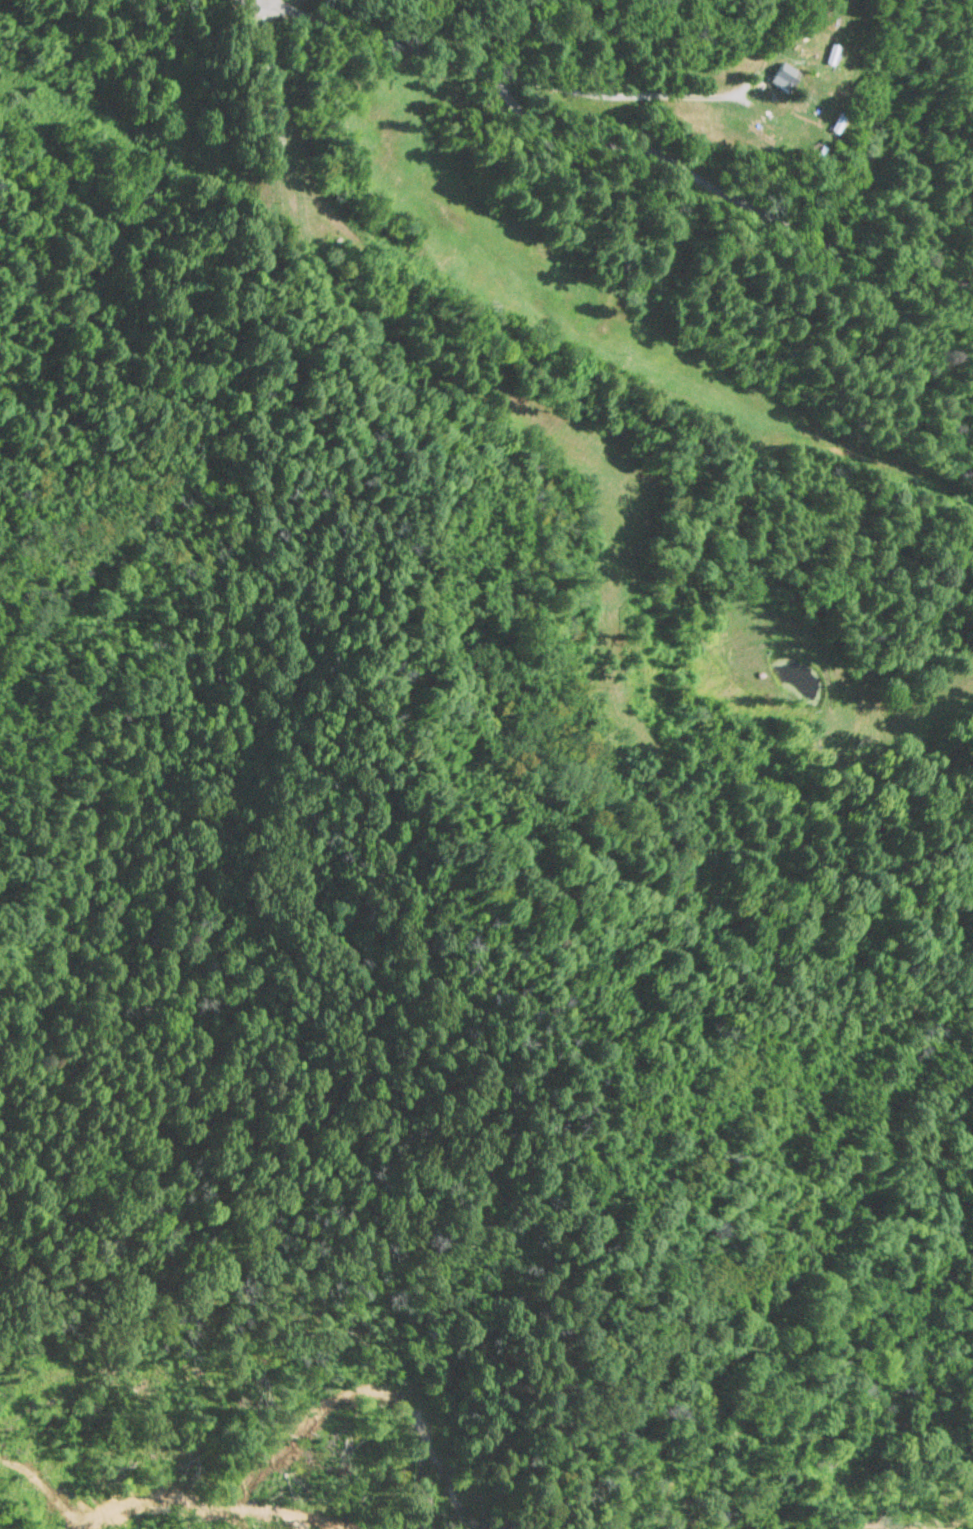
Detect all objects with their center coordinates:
road: (260, 3)
road: (271, 3)
building: (783, 77)
road: (678, 119)
road: (618, 144)
road: (167, 160)

